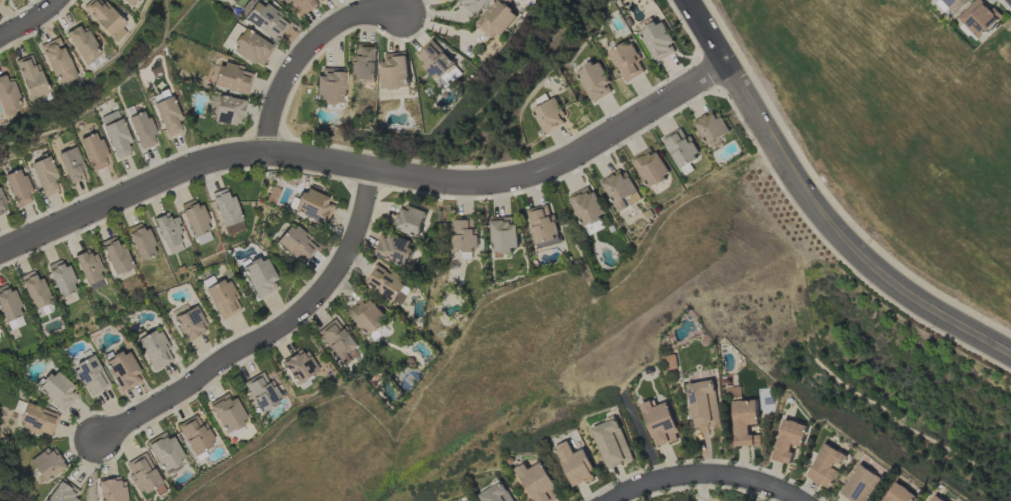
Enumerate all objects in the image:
building: (0, 0)
building: (320, 0)
building: (129, 1)
building: (473, 5)
building: (953, 5)
building: (299, 6)
building: (979, 18)
building: (105, 19)
building: (263, 19)
building: (497, 19)
road: (31, 21)
building: (658, 40)
building: (83, 44)
building: (248, 45)
road: (304, 55)
building: (57, 60)
building: (434, 60)
building: (626, 61)
building: (363, 62)
building: (394, 71)
building: (210, 73)
building: (30, 76)
building: (231, 78)
building: (594, 81)
building: (329, 86)
building: (8, 98)
building: (211, 105)
building: (228, 111)
building: (549, 115)
building: (167, 116)
building: (712, 127)
building: (141, 129)
building: (115, 134)
building: (681, 148)
building: (93, 151)
building: (71, 165)
building: (650, 167)
road: (369, 168)
building: (45, 176)
building: (17, 187)
building: (621, 190)
building: (2, 206)
building: (310, 206)
building: (587, 206)
road: (817, 207)
building: (227, 212)
building: (194, 217)
building: (410, 221)
building: (543, 226)
building: (169, 233)
building: (504, 234)
building: (464, 235)
building: (141, 241)
building: (296, 244)
building: (395, 249)
building: (115, 255)
building: (88, 266)
building: (259, 276)
building: (61, 278)
building: (388, 283)
building: (37, 294)
building: (223, 299)
building: (8, 303)
building: (367, 315)
building: (188, 322)
building: (14, 323)
road: (270, 334)
building: (337, 339)
building: (154, 349)
building: (299, 366)
building: (122, 370)
building: (90, 376)
building: (57, 390)
building: (262, 392)
building: (703, 404)
building: (227, 413)
building: (37, 420)
building: (745, 422)
building: (660, 423)
building: (195, 435)
building: (789, 440)
building: (612, 443)
building: (165, 452)
building: (46, 464)
building: (575, 464)
building: (827, 465)
road: (707, 470)
building: (142, 474)
building: (539, 482)
building: (862, 485)
building: (111, 490)
building: (64, 493)
building: (497, 493)
building: (900, 493)
building: (938, 498)

